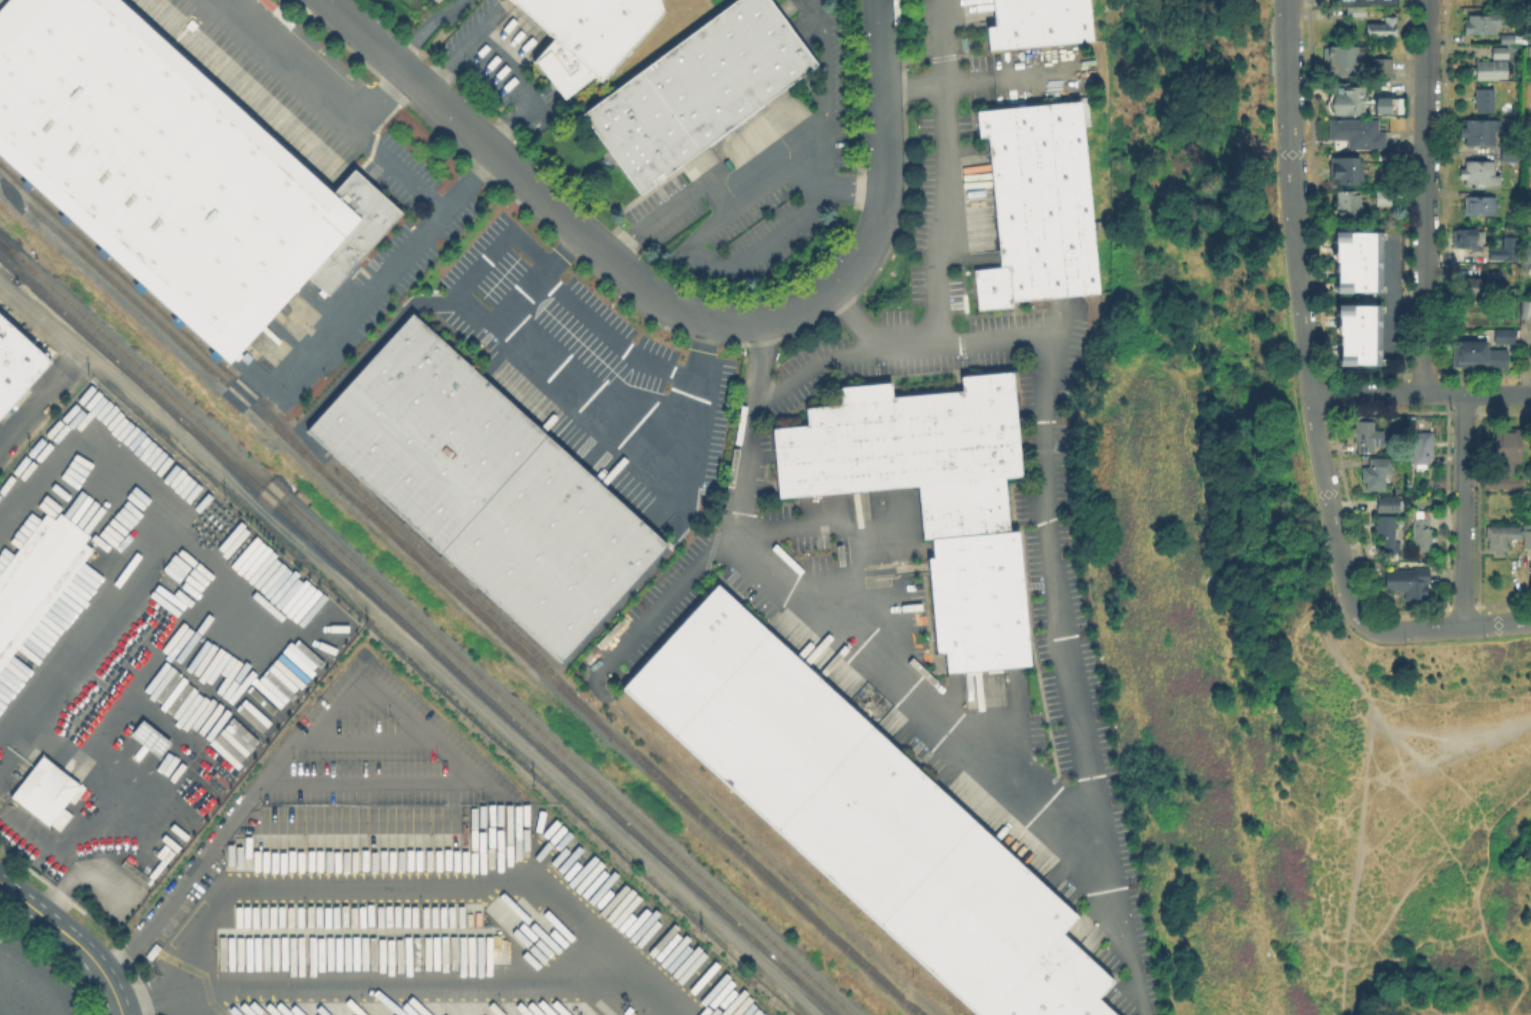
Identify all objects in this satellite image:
building: (435, 0)
building: (437, 0)
building: (2, 1)
building: (1365, 6)
building: (1038, 23)
building: (1482, 25)
road: (428, 27)
building: (1382, 29)
building: (589, 36)
building: (1530, 37)
building: (1511, 40)
road: (941, 44)
building: (1528, 49)
building: (1501, 54)
building: (1340, 61)
road: (505, 64)
building: (1383, 68)
road: (829, 70)
building: (1491, 70)
road: (1006, 76)
building: (699, 91)
road: (382, 99)
building: (1484, 100)
building: (1350, 101)
road: (333, 104)
building: (1387, 104)
building: (1479, 132)
building: (1358, 134)
road: (794, 164)
building: (159, 166)
building: (1347, 172)
building: (1481, 175)
road: (948, 187)
road: (1294, 196)
road: (1424, 196)
building: (1529, 196)
building: (1383, 199)
building: (1037, 205)
building: (1482, 205)
building: (1348, 208)
building: (354, 229)
building: (1462, 236)
railway: (3, 242)
building: (1499, 249)
road: (696, 251)
road: (404, 257)
building: (1524, 259)
building: (1356, 260)
road: (483, 266)
road: (546, 275)
building: (1484, 285)
road: (678, 308)
building: (1527, 311)
railway: (173, 321)
building: (1357, 333)
building: (1502, 334)
road: (616, 338)
building: (1529, 349)
building: (1478, 357)
building: (1530, 360)
building: (16, 363)
road: (824, 377)
road: (1419, 392)
road: (638, 423)
building: (1369, 437)
building: (1423, 450)
building: (1509, 450)
road: (79, 456)
building: (1378, 475)
building: (1505, 483)
road: (1046, 485)
building: (488, 488)
building: (931, 498)
building: (1390, 506)
road: (1463, 511)
road: (729, 527)
building: (1388, 533)
building: (1423, 533)
building: (1527, 538)
building: (1501, 539)
building: (38, 579)
building: (1409, 583)
road: (1346, 593)
railway: (476, 596)
railway: (462, 597)
park: (1260, 620)
road: (95, 621)
railway: (426, 626)
railway: (419, 633)
road: (410, 644)
road: (1439, 703)
road: (12, 722)
road: (206, 723)
road: (0, 736)
building: (148, 738)
road: (969, 753)
road: (268, 770)
building: (46, 792)
road: (1361, 794)
building: (864, 817)
park: (1438, 825)
road: (1244, 838)
road: (1431, 870)
road: (430, 886)
road: (1477, 902)
road: (71, 939)
road: (1397, 954)
road: (1473, 964)
road: (169, 985)
road: (33, 986)
railway: (787, 997)
road: (1341, 1014)

